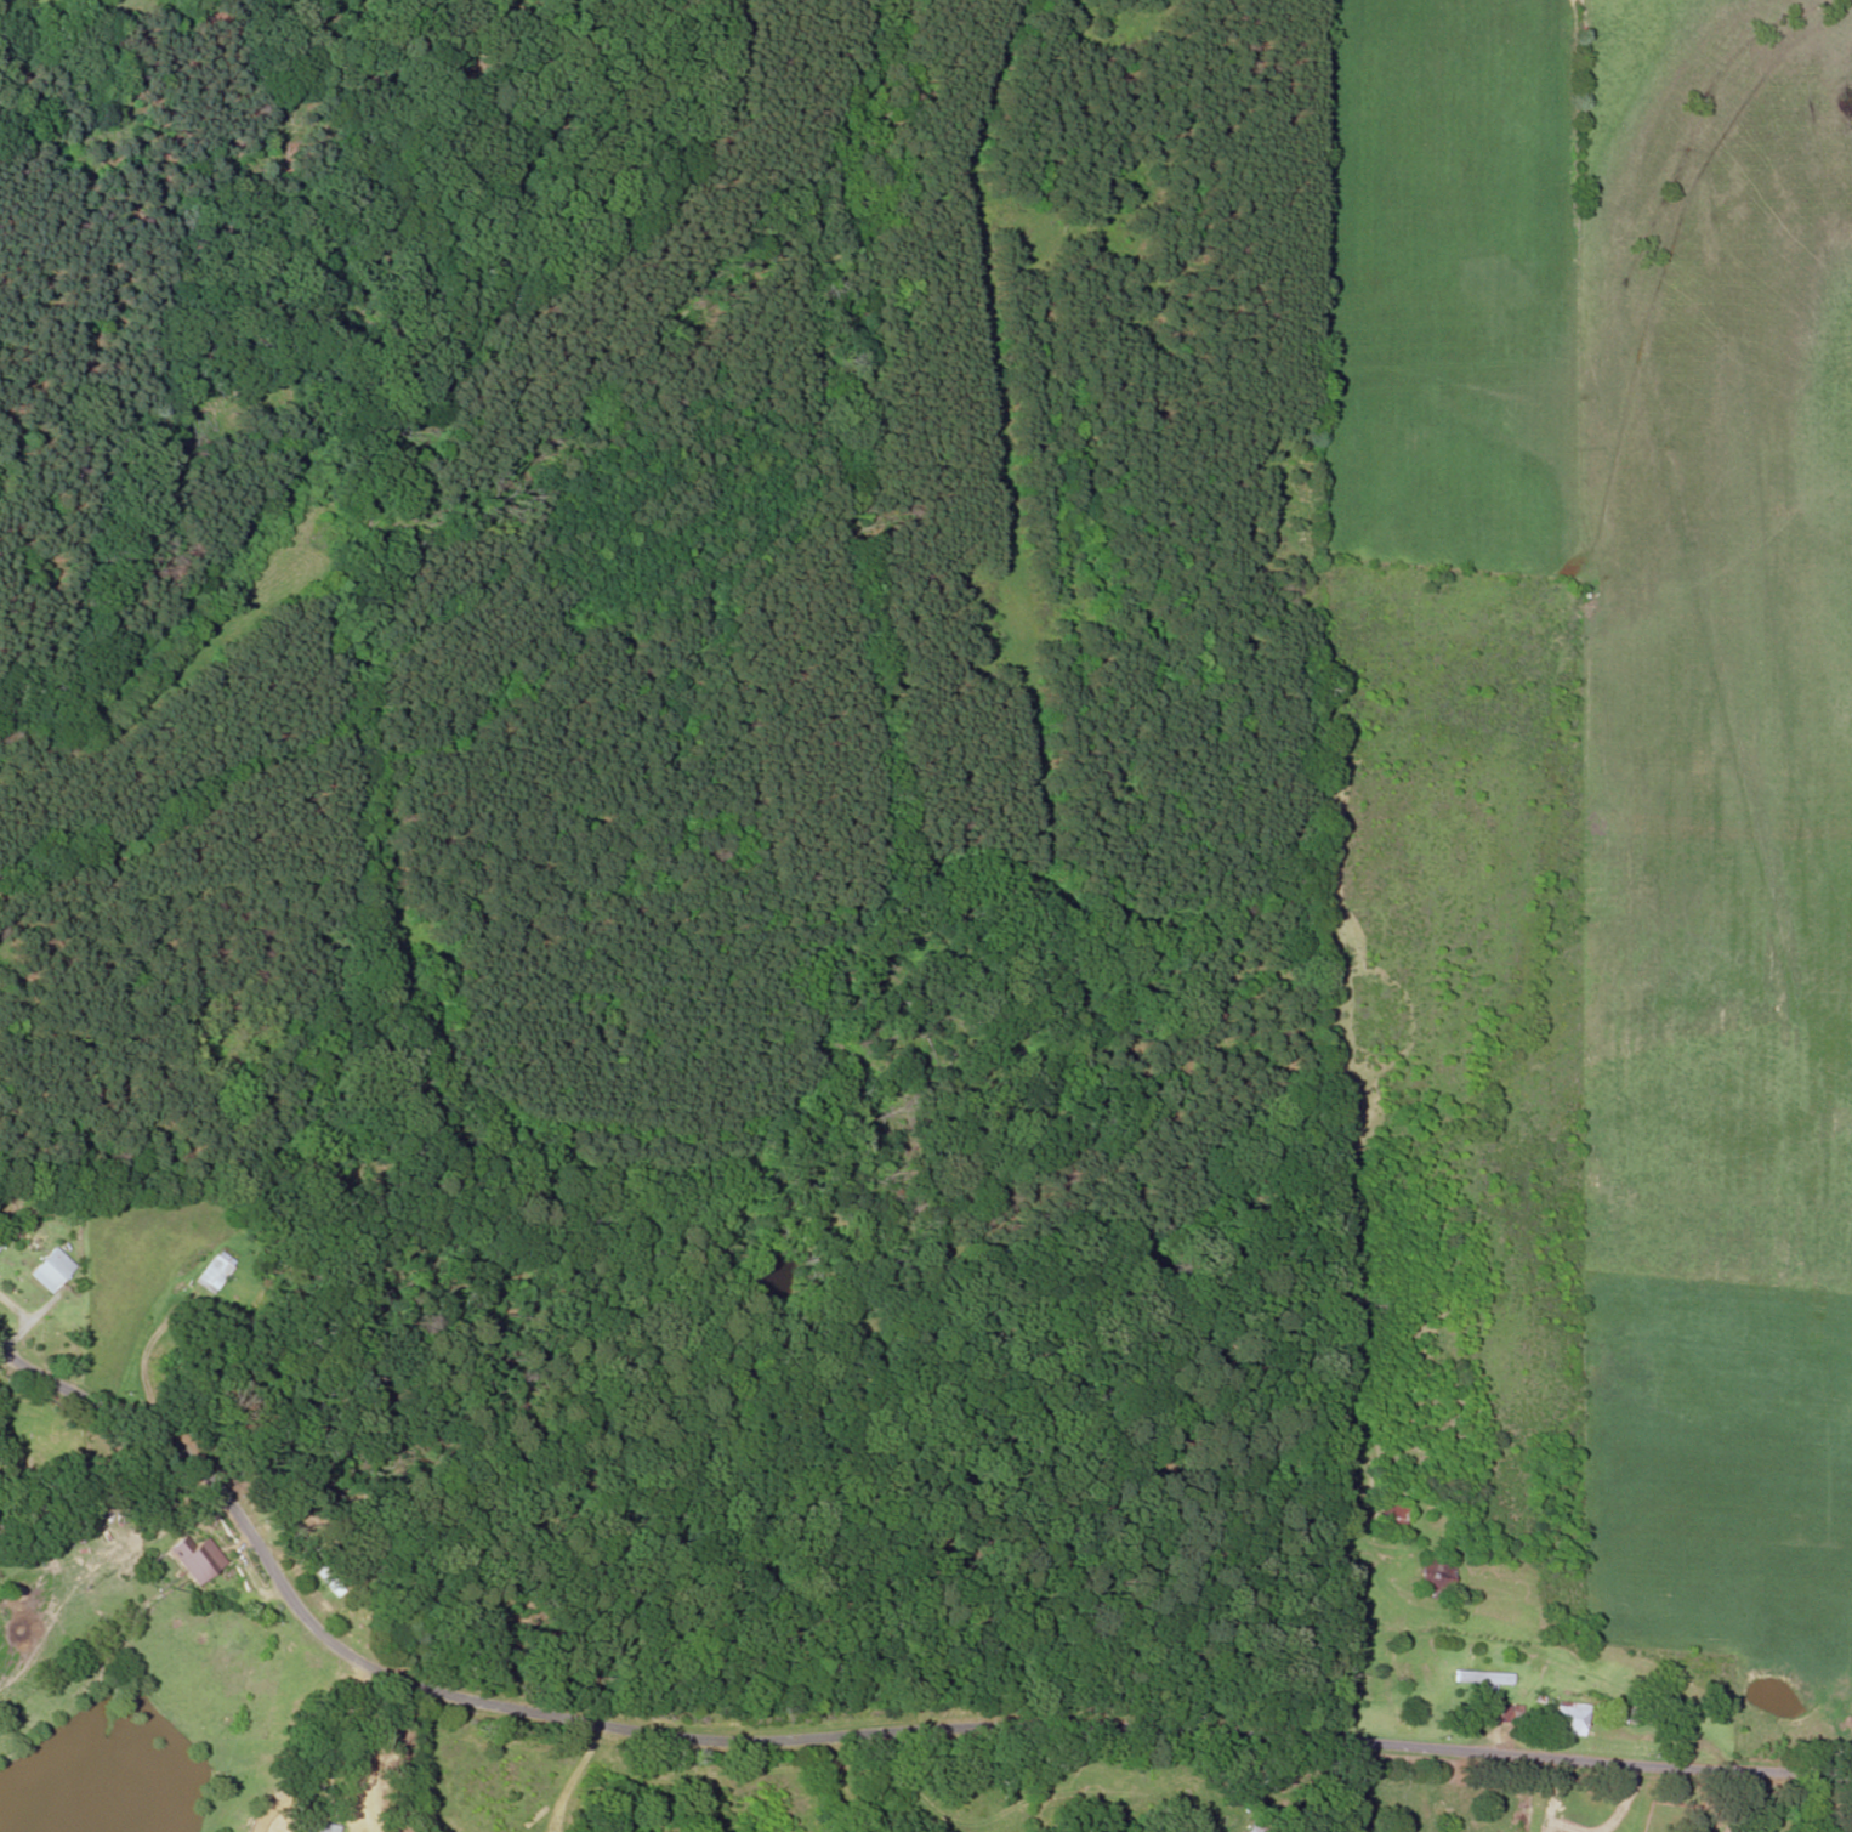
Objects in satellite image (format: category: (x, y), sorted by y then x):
building: (0, 1241)
building: (51, 1269)
building: (214, 1271)
building: (1391, 1519)
building: (194, 1559)
building: (1433, 1577)
building: (326, 1578)
building: (1482, 1678)
building: (1496, 1713)
building: (1569, 1718)
road: (856, 1736)
building: (316, 1826)
building: (1252, 1827)

